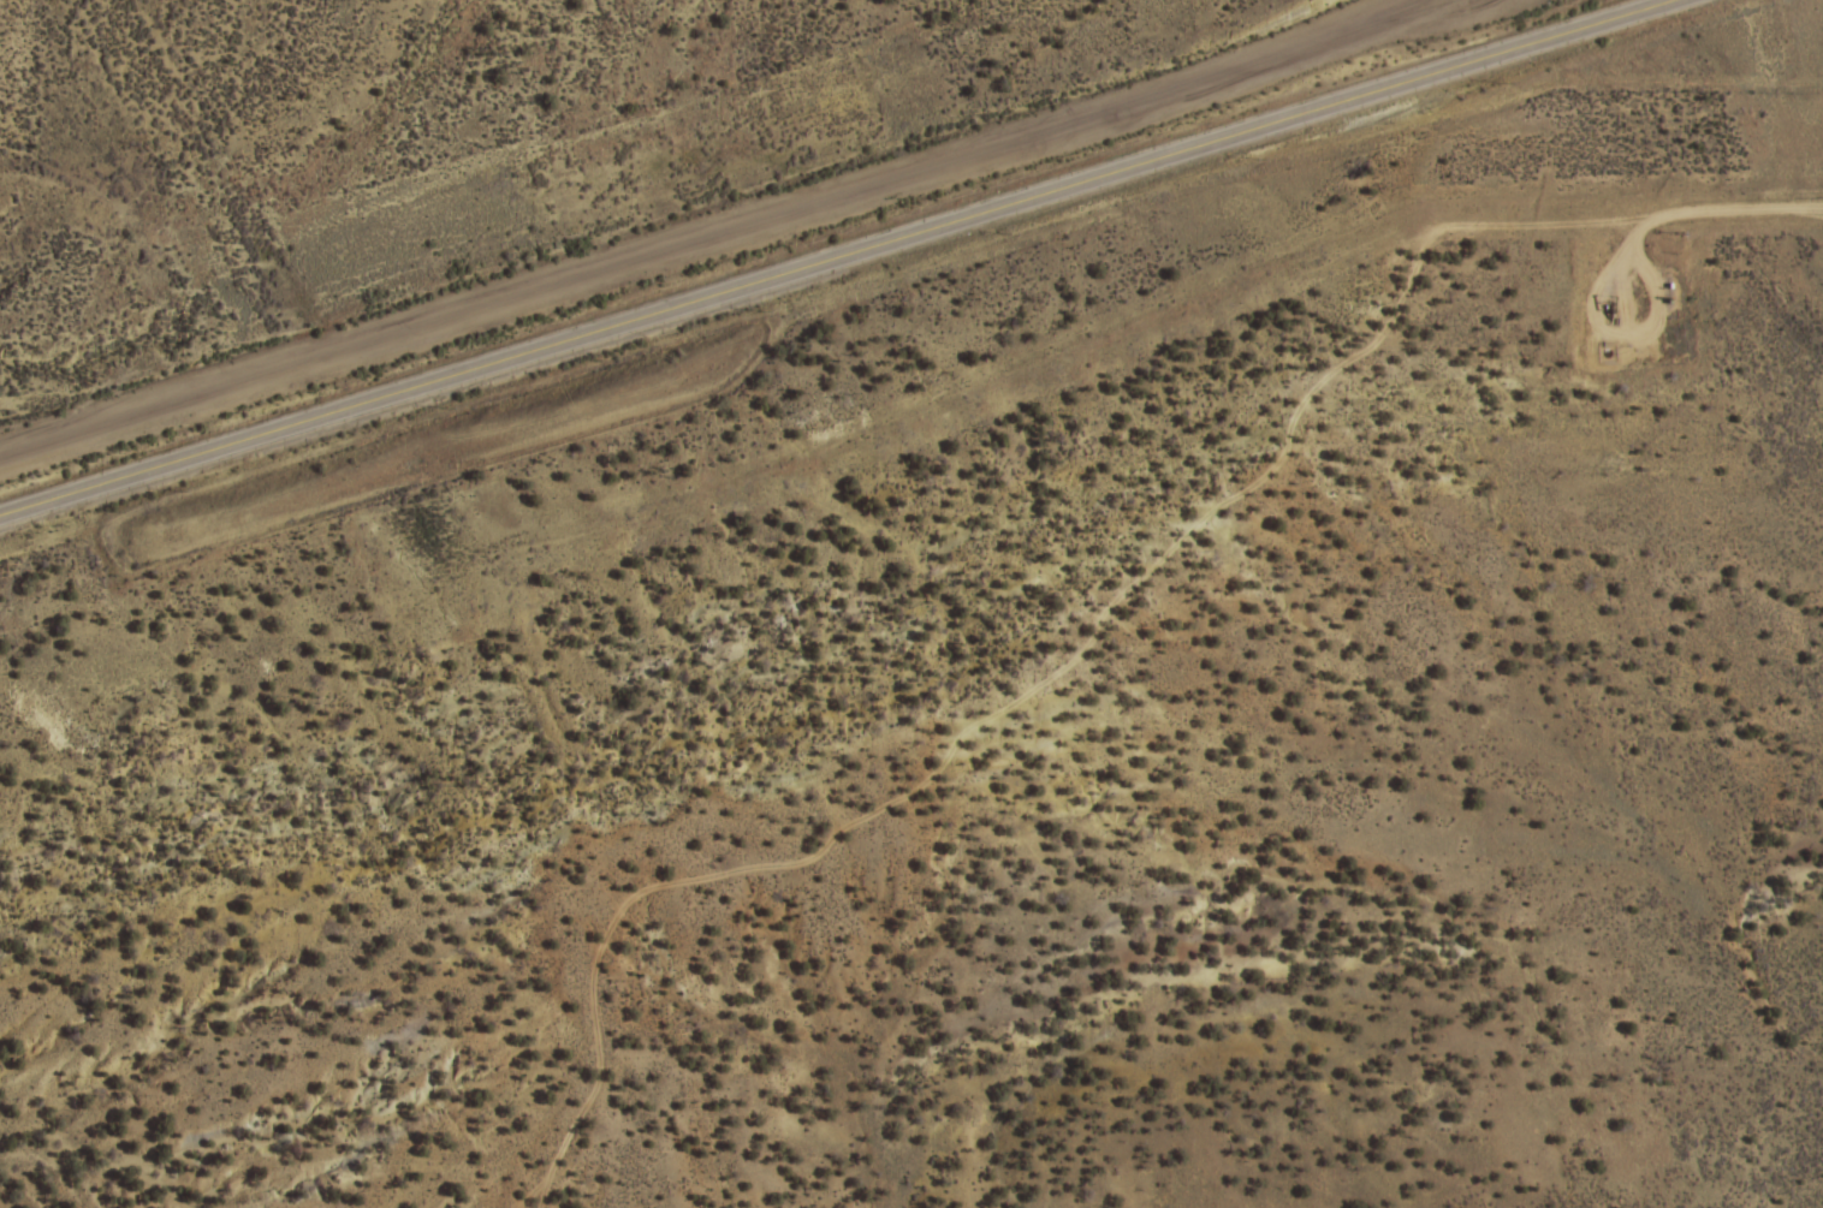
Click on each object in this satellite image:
road: (709, 244)
road: (835, 258)

